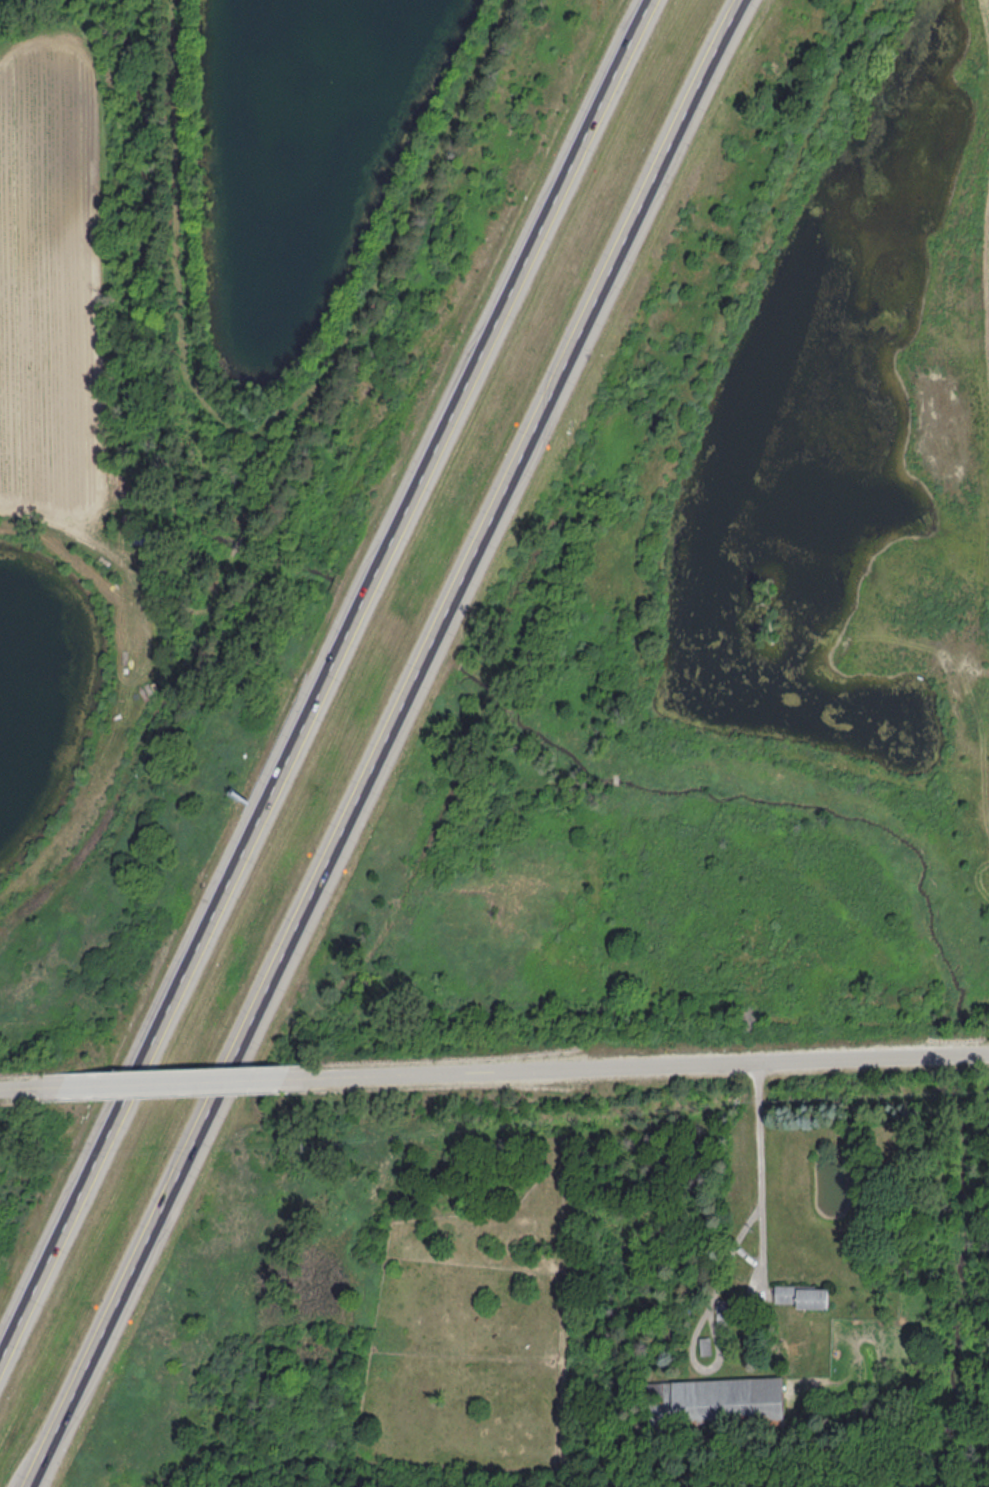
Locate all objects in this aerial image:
road: (324, 683)
road: (391, 743)
road: (661, 1065)
road: (190, 1079)
road: (23, 1085)
road: (728, 1252)
building: (804, 1297)
building: (728, 1401)

